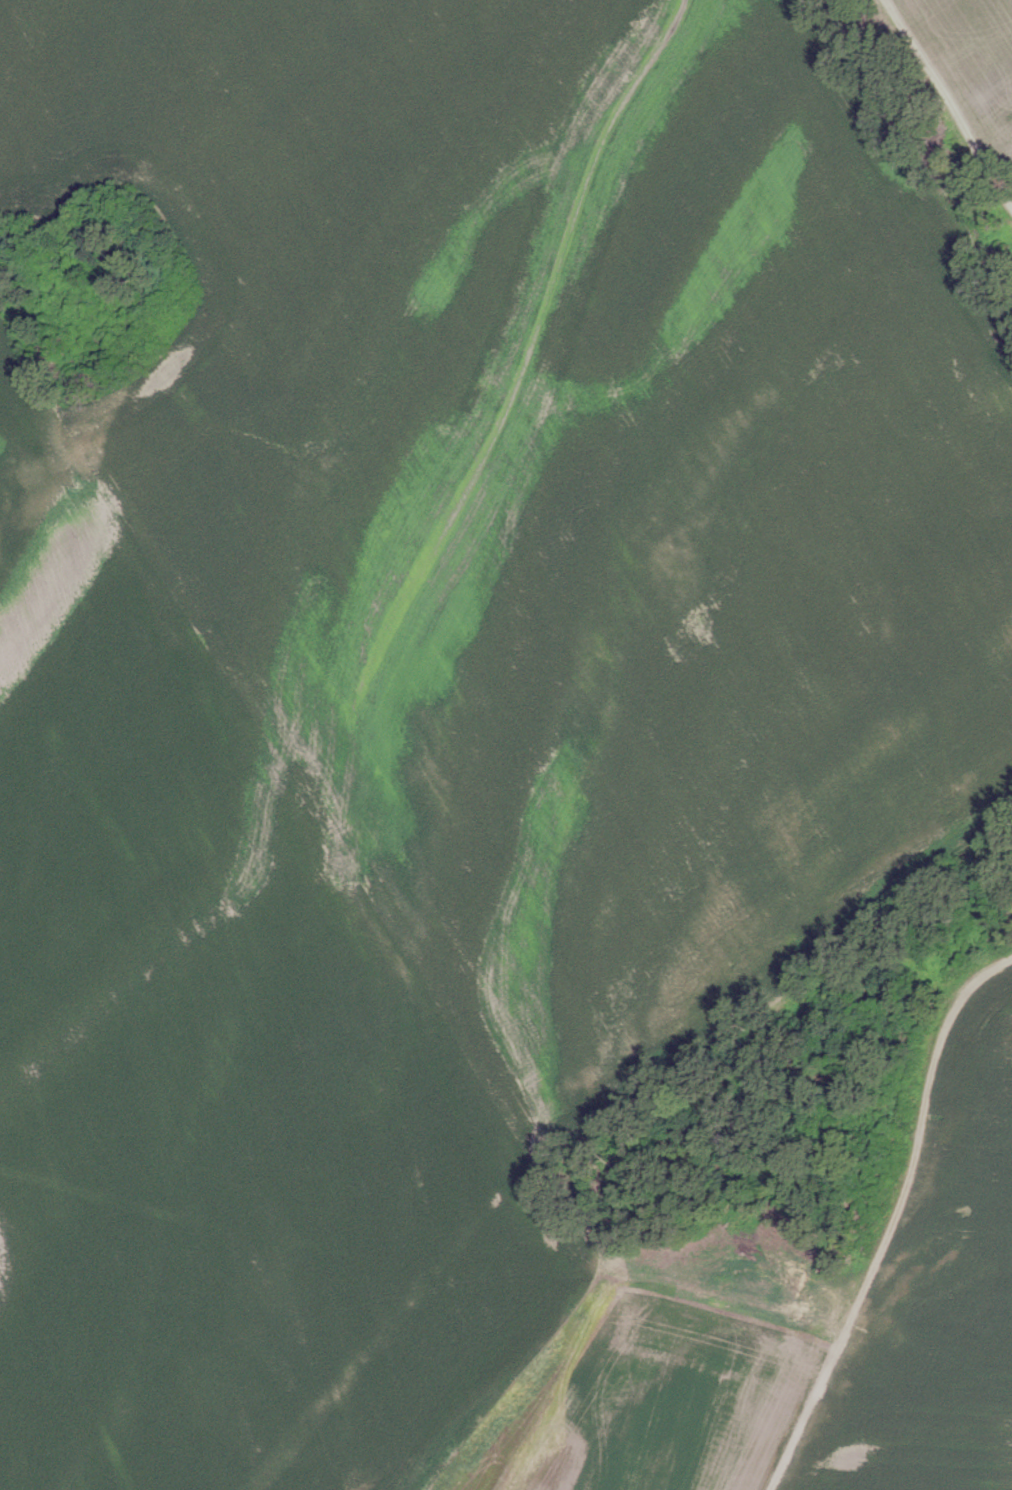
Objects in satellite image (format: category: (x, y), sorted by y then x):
crop: (966, 73)
road: (945, 102)
crop: (95, 288)
crop: (484, 744)
road: (893, 1216)
road: (620, 1295)

